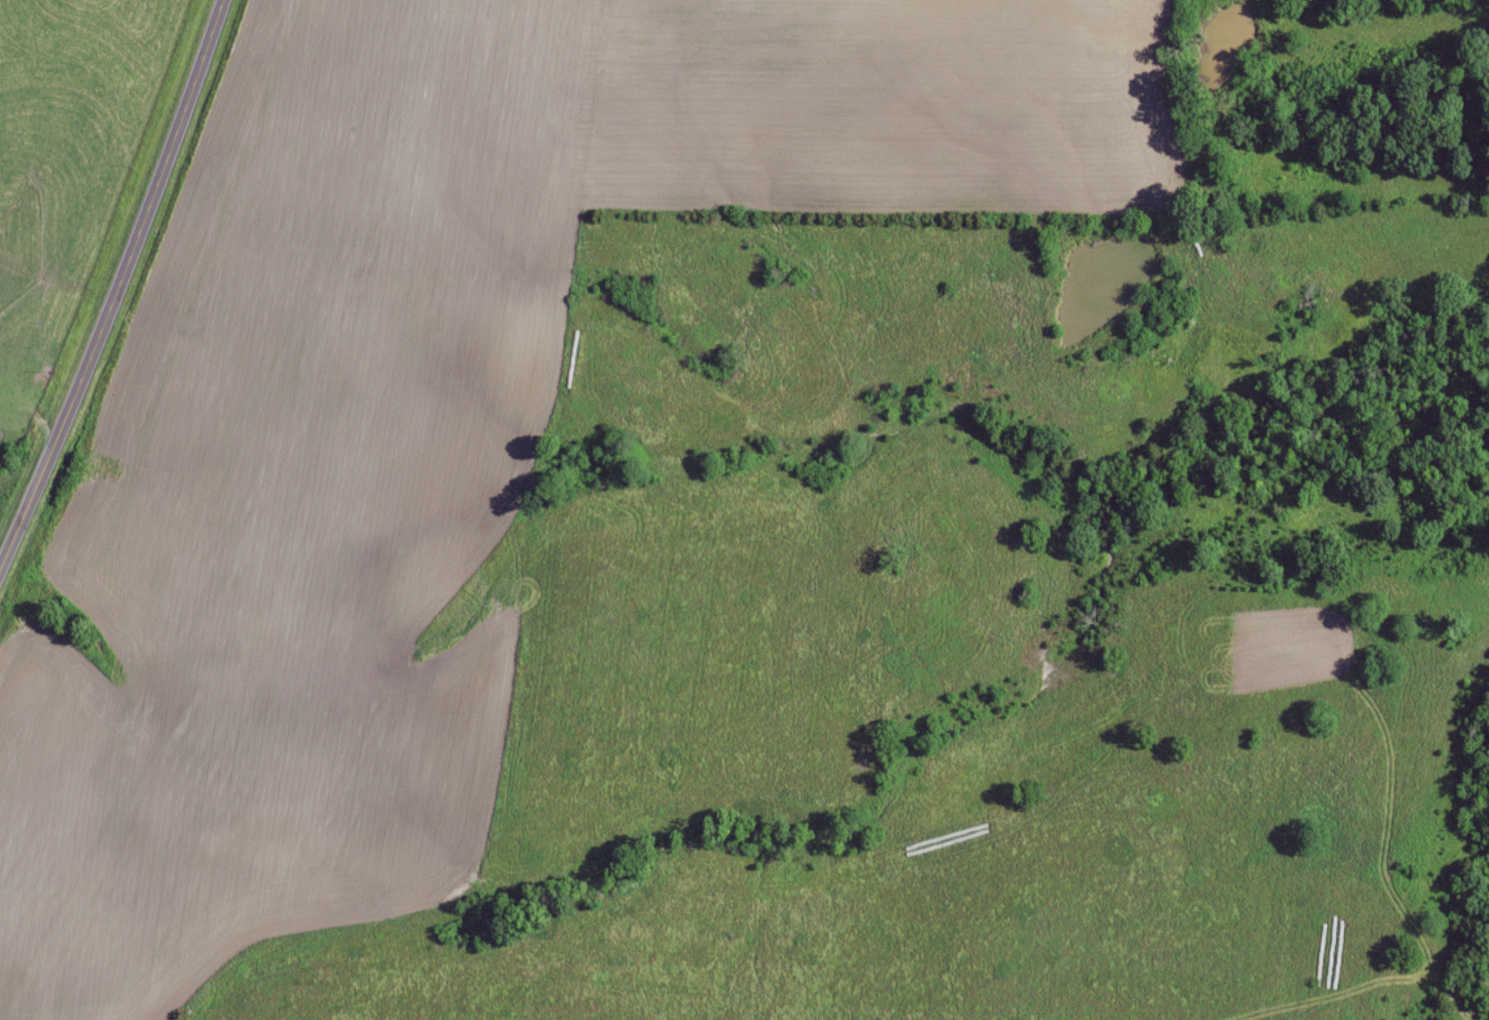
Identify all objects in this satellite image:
road: (118, 284)

